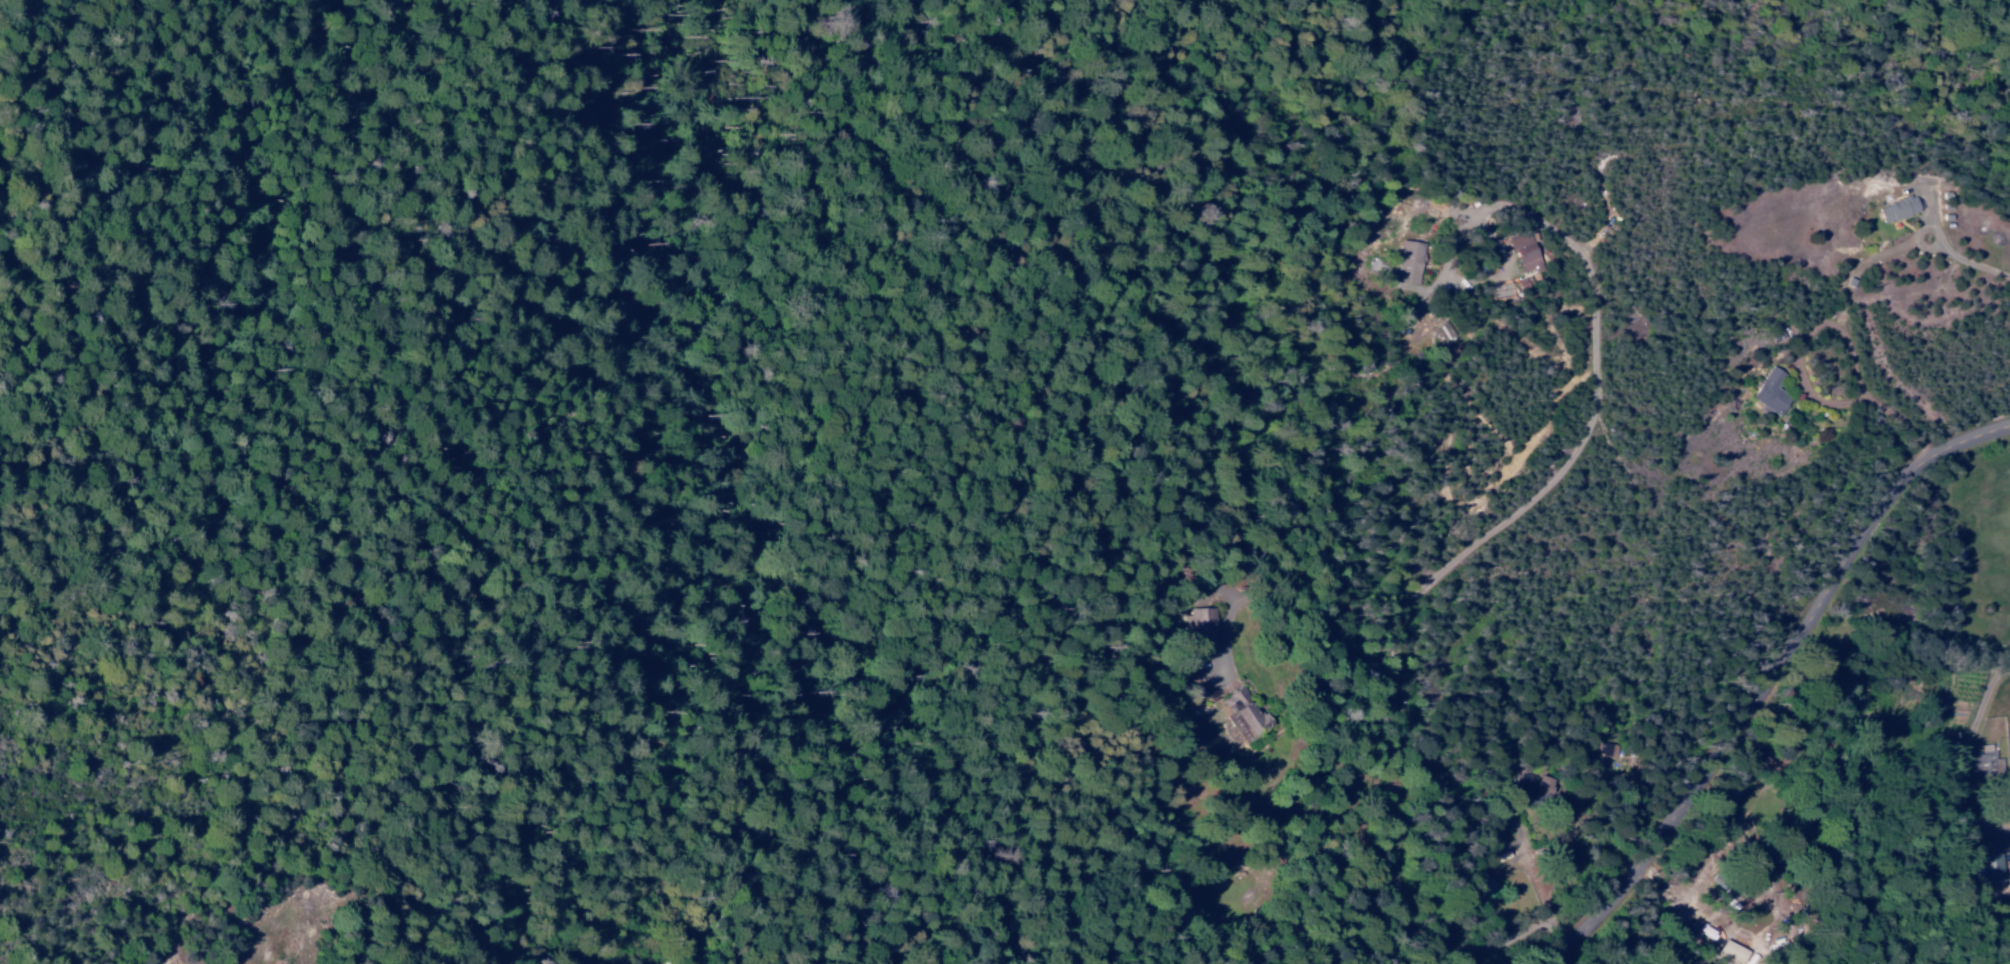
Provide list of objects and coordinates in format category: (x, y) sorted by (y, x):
building: (1897, 209)
building: (1524, 252)
building: (1409, 262)
building: (1770, 391)
building: (1203, 629)
road: (1770, 677)
building: (1245, 713)
building: (1603, 753)
building: (1989, 762)
building: (1531, 789)
building: (1999, 860)
building: (1735, 951)

